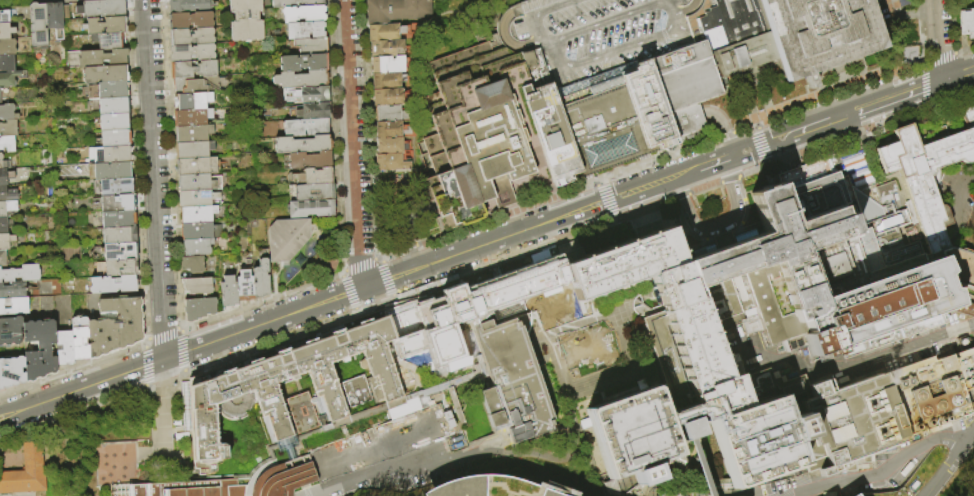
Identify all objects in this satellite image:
road: (15, 0)
building: (283, 4)
building: (189, 6)
parking lot: (890, 7)
building: (100, 9)
building: (890, 9)
building: (395, 10)
building: (65, 12)
road: (908, 12)
building: (304, 14)
building: (4, 17)
building: (54, 19)
building: (190, 20)
building: (246, 21)
building: (965, 22)
building: (38, 25)
building: (105, 25)
building: (305, 30)
building: (6, 31)
building: (385, 32)
building: (819, 33)
building: (592, 36)
parking lot: (592, 36)
building: (191, 37)
road: (937, 40)
building: (109, 41)
building: (725, 41)
building: (311, 46)
building: (7, 47)
building: (386, 48)
road: (963, 49)
building: (192, 53)
building: (908, 54)
building: (101, 58)
road: (937, 58)
building: (6, 63)
building: (303, 63)
building: (387, 64)
building: (837, 68)
building: (193, 69)
building: (104, 74)
road: (956, 74)
building: (8, 79)
building: (301, 79)
building: (386, 81)
building: (196, 85)
building: (107, 90)
building: (307, 94)
road: (838, 95)
road: (897, 95)
building: (387, 97)
building: (191, 101)
building: (672, 102)
road: (747, 103)
building: (112, 106)
building: (312, 111)
building: (7, 112)
building: (389, 113)
road: (769, 113)
building: (192, 117)
building: (113, 122)
building: (583, 125)
road: (870, 126)
building: (305, 127)
road: (351, 127)
road: (755, 127)
building: (8, 128)
road: (724, 128)
road: (366, 129)
building: (390, 129)
road: (794, 132)
building: (193, 133)
road: (863, 134)
road: (333, 136)
building: (113, 139)
building: (7, 143)
building: (302, 145)
building: (388, 145)
road: (761, 145)
building: (478, 147)
building: (193, 149)
building: (111, 154)
traffic signals: (734, 155)
road: (783, 155)
building: (309, 160)
road: (715, 161)
building: (390, 162)
road: (766, 162)
road: (858, 162)
building: (2, 163)
road: (170, 164)
building: (197, 166)
road: (135, 170)
road: (752, 170)
building: (111, 171)
road: (686, 172)
building: (929, 172)
road: (971, 173)
building: (5, 176)
building: (313, 176)
road: (154, 179)
road: (728, 179)
building: (198, 182)
road: (595, 184)
building: (116, 187)
road: (703, 188)
building: (889, 189)
building: (313, 192)
road: (953, 192)
road: (568, 193)
building: (6, 195)
road: (679, 195)
building: (198, 199)
road: (601, 200)
building: (117, 203)
road: (743, 204)
building: (310, 208)
road: (640, 208)
building: (5, 209)
building: (196, 214)
building: (971, 217)
building: (117, 219)
road: (720, 224)
building: (4, 225)
building: (200, 231)
building: (970, 234)
building: (119, 235)
road: (694, 237)
building: (287, 239)
building: (5, 241)
building: (196, 246)
building: (120, 251)
building: (2, 258)
road: (378, 258)
building: (625, 263)
building: (192, 264)
road: (358, 264)
building: (117, 268)
building: (836, 269)
road: (362, 270)
road: (341, 271)
building: (20, 273)
road: (385, 276)
road: (439, 278)
building: (261, 280)
building: (112, 284)
building: (197, 286)
building: (243, 287)
building: (12, 290)
building: (742, 290)
building: (227, 291)
road: (348, 293)
road: (389, 294)
road: (337, 296)
road: (262, 301)
building: (483, 305)
building: (13, 306)
building: (198, 309)
building: (114, 327)
road: (179, 328)
road: (179, 329)
building: (10, 330)
road: (161, 333)
building: (79, 338)
road: (143, 342)
building: (965, 343)
building: (698, 347)
building: (63, 348)
building: (38, 349)
road: (903, 349)
road: (180, 350)
road: (227, 356)
road: (144, 366)
road: (71, 370)
building: (11, 372)
building: (513, 380)
road: (145, 386)
building: (234, 391)
road: (295, 392)
road: (164, 405)
road: (93, 406)
building: (881, 410)
building: (304, 413)
building: (400, 433)
road: (955, 433)
building: (635, 434)
building: (762, 441)
road: (63, 445)
building: (696, 448)
road: (480, 452)
road: (297, 460)
road: (433, 463)
building: (114, 464)
road: (873, 465)
road: (951, 465)
building: (907, 470)
building: (27, 473)
building: (282, 477)
road: (355, 478)
park: (961, 479)
road: (301, 480)
building: (874, 486)
building: (488, 487)
building: (178, 489)
building: (942, 489)
park: (386, 492)
building: (754, 492)
building: (641, 494)
building: (857, 495)

